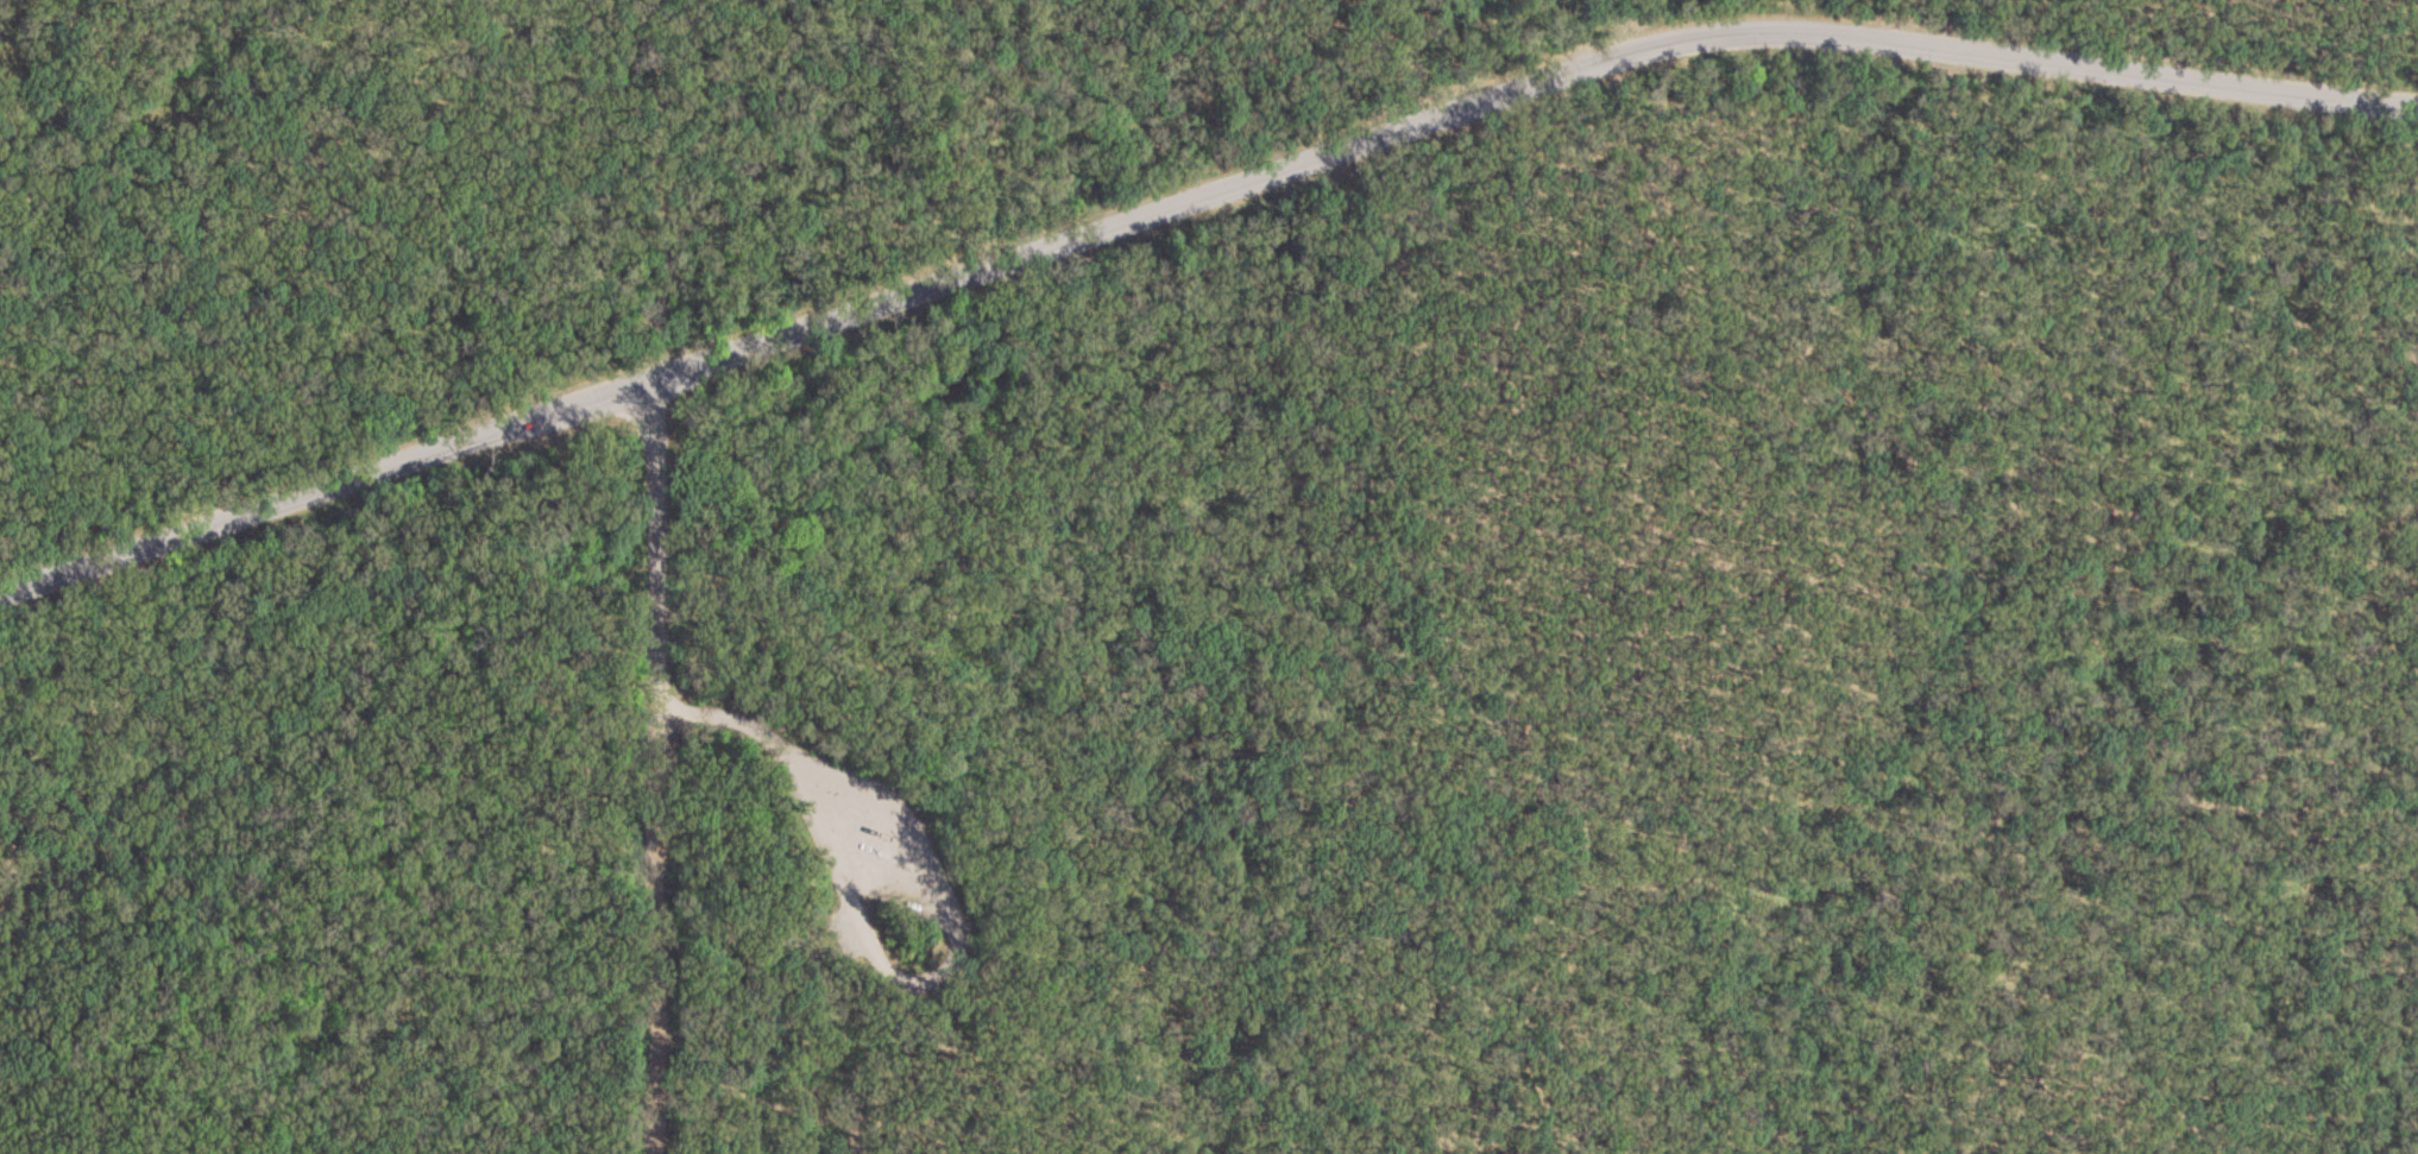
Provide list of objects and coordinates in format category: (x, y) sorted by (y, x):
road: (1184, 170)
road: (654, 764)
parking lot: (873, 851)
road: (946, 906)

